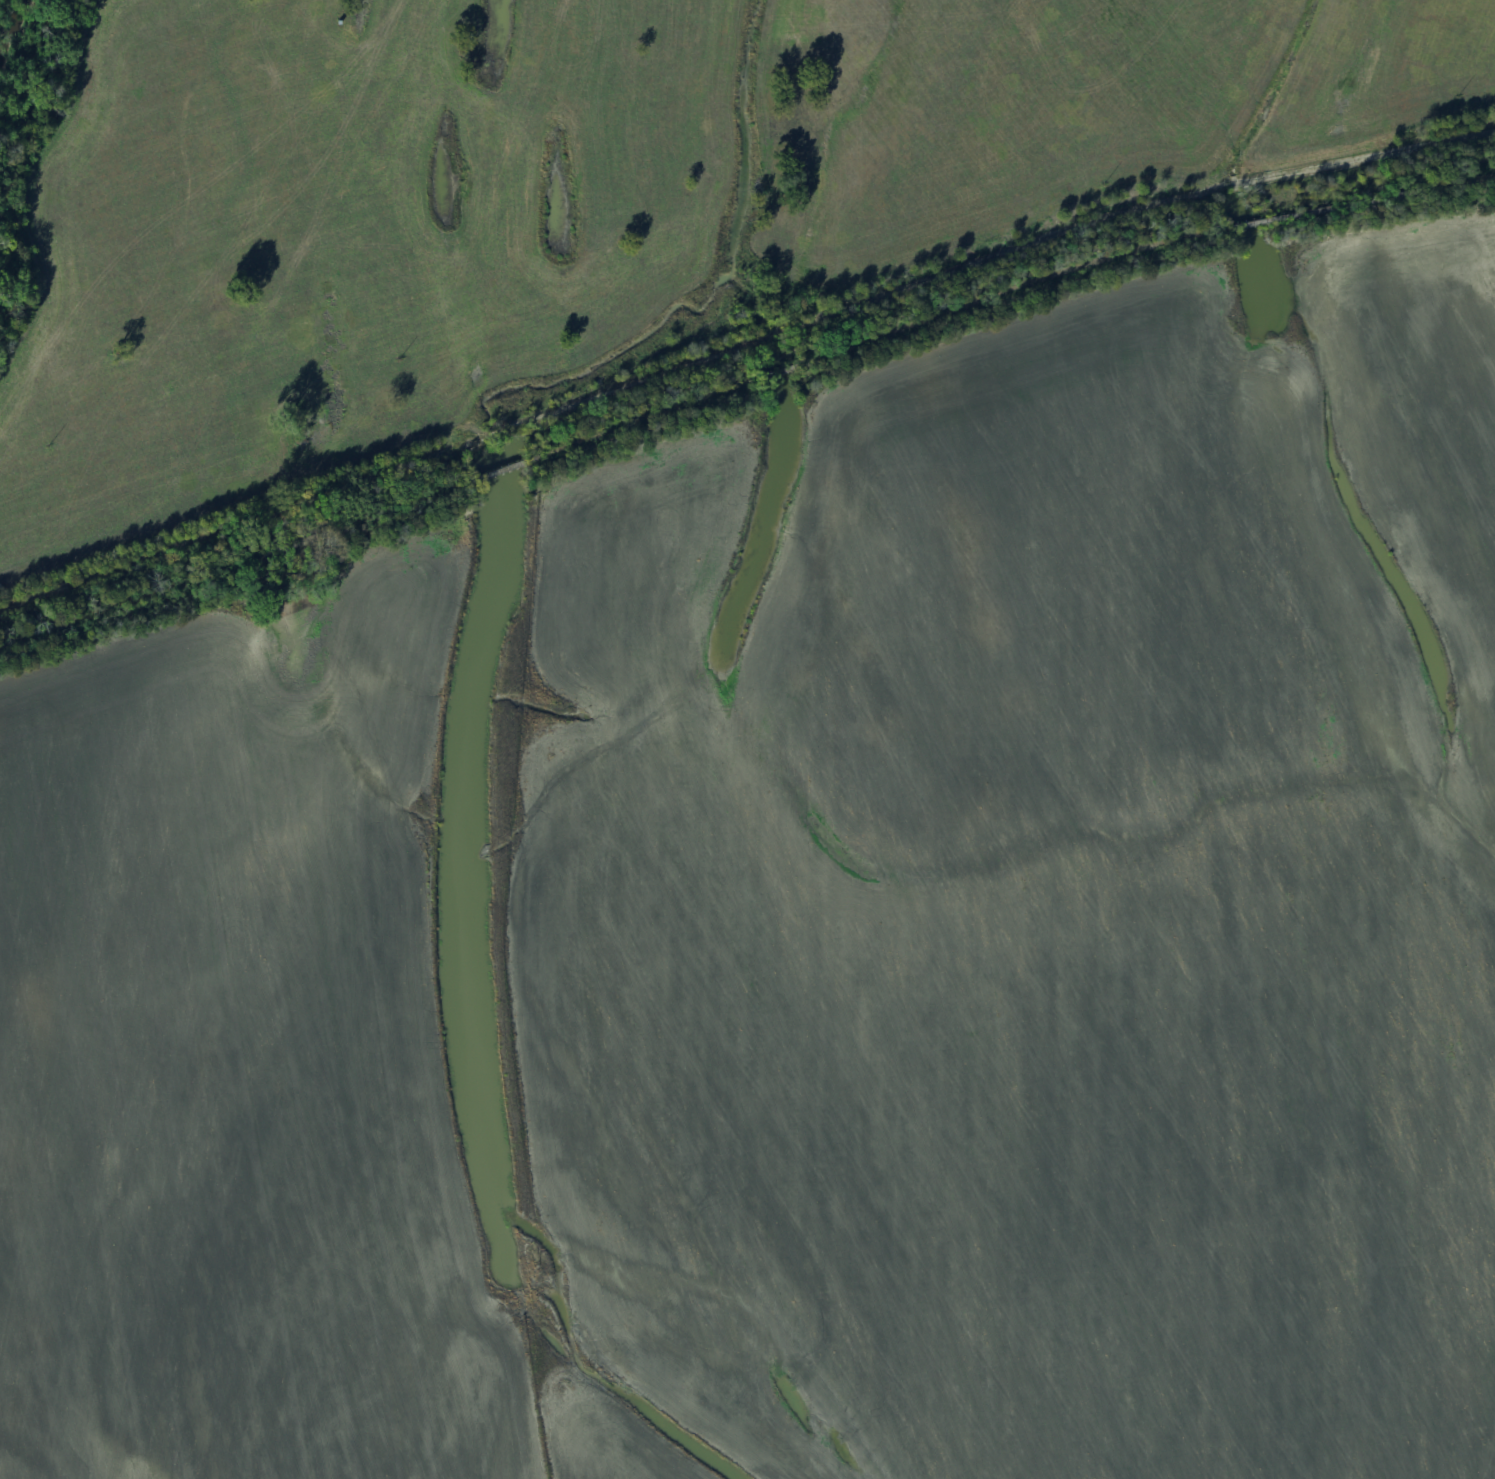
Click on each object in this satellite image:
railway: (740, 378)

